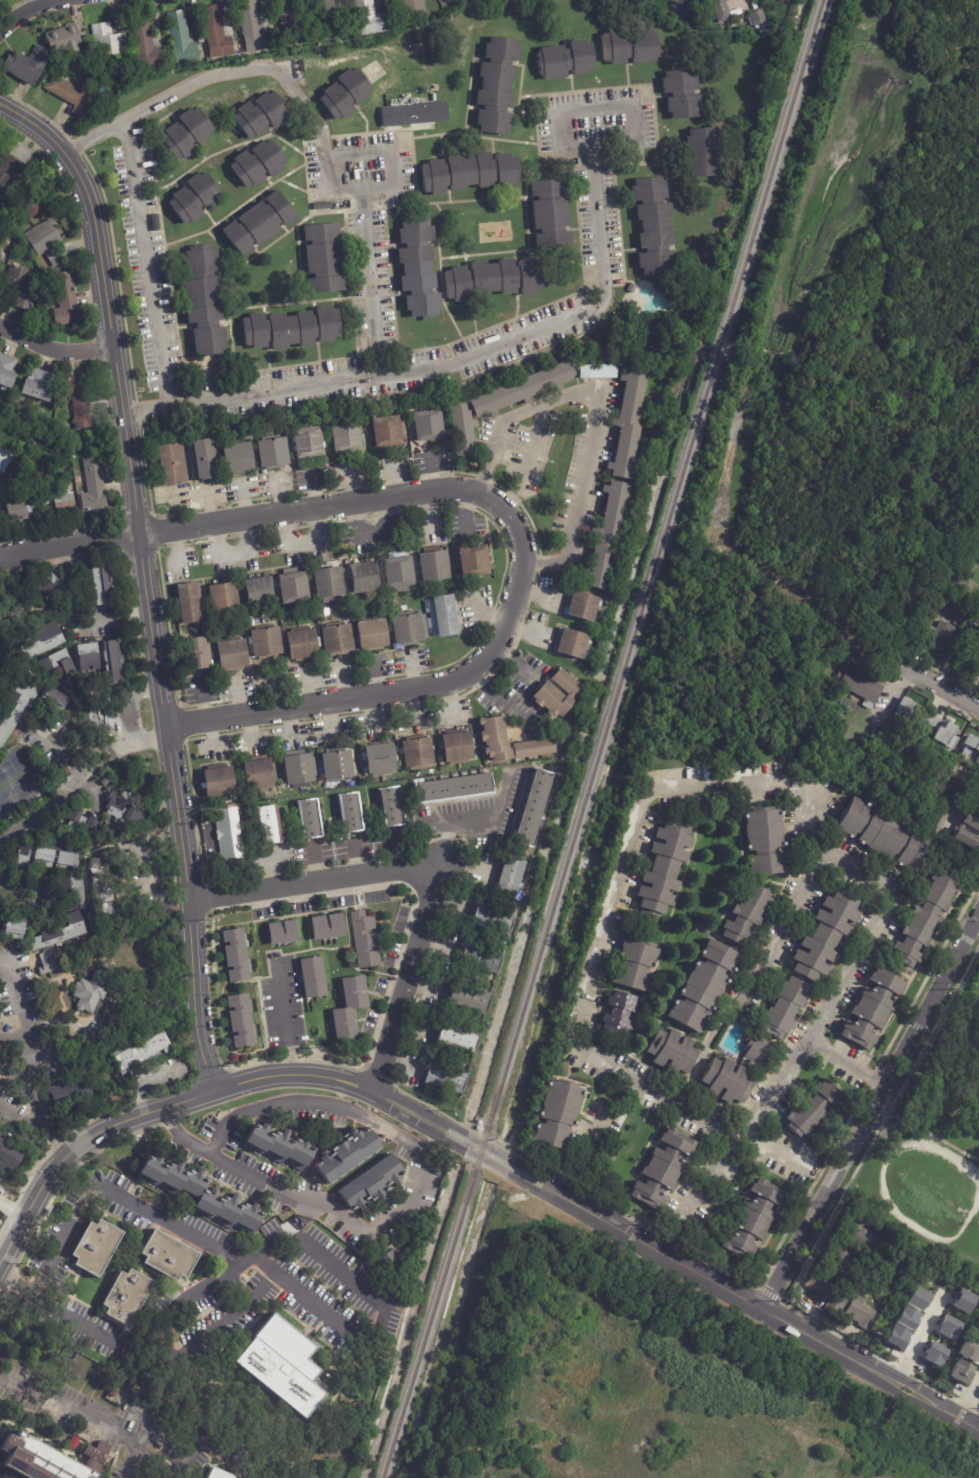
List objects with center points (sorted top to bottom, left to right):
building: (447, 0)
building: (409, 7)
building: (718, 9)
road: (24, 11)
building: (366, 18)
building: (326, 19)
building: (288, 22)
building: (765, 24)
building: (250, 26)
building: (213, 31)
building: (178, 36)
building: (196, 38)
building: (65, 40)
building: (105, 41)
building: (140, 41)
building: (628, 44)
building: (565, 59)
building: (25, 64)
building: (495, 85)
building: (345, 93)
building: (678, 95)
building: (70, 96)
road: (299, 97)
building: (413, 113)
building: (260, 114)
building: (185, 133)
building: (698, 153)
building: (257, 162)
building: (10, 172)
building: (470, 172)
building: (194, 197)
building: (30, 199)
building: (323, 205)
building: (548, 214)
building: (154, 222)
building: (259, 222)
building: (654, 225)
building: (46, 241)
road: (97, 248)
building: (1, 256)
building: (325, 258)
building: (416, 268)
building: (494, 279)
road: (370, 282)
building: (21, 288)
building: (631, 288)
building: (68, 300)
building: (205, 300)
building: (290, 329)
road: (55, 348)
road: (435, 366)
building: (7, 371)
building: (594, 372)
building: (39, 386)
building: (520, 389)
building: (81, 401)
road: (148, 405)
road: (597, 413)
building: (625, 425)
building: (422, 427)
building: (459, 430)
building: (384, 431)
building: (343, 437)
road: (128, 442)
building: (304, 444)
road: (532, 447)
building: (267, 454)
building: (5, 458)
building: (230, 459)
building: (197, 460)
building: (167, 464)
building: (96, 486)
building: (532, 490)
building: (21, 494)
building: (63, 503)
road: (495, 503)
building: (20, 511)
building: (604, 534)
road: (236, 557)
building: (472, 561)
building: (432, 568)
building: (397, 574)
building: (362, 577)
building: (328, 584)
building: (107, 586)
building: (49, 588)
building: (290, 590)
building: (258, 593)
building: (222, 599)
building: (187, 604)
building: (947, 606)
building: (354, 607)
building: (582, 607)
building: (281, 616)
building: (443, 616)
road: (113, 617)
building: (195, 629)
building: (404, 631)
building: (368, 634)
building: (937, 637)
building: (334, 640)
building: (263, 643)
building: (42, 644)
building: (572, 644)
building: (297, 645)
building: (314, 645)
building: (193, 654)
building: (228, 655)
building: (965, 655)
building: (88, 657)
building: (58, 661)
building: (116, 664)
building: (977, 672)
building: (860, 687)
road: (942, 688)
road: (892, 690)
building: (554, 695)
building: (55, 701)
road: (130, 702)
building: (18, 706)
building: (100, 716)
building: (924, 722)
railway: (603, 739)
building: (491, 741)
building: (970, 746)
road: (60, 747)
building: (452, 749)
building: (412, 755)
building: (648, 757)
building: (377, 760)
building: (334, 767)
building: (295, 771)
road: (172, 772)
road: (77, 774)
building: (254, 777)
building: (105, 782)
building: (214, 784)
building: (454, 790)
building: (973, 795)
building: (532, 807)
building: (385, 809)
building: (124, 810)
building: (344, 815)
building: (940, 815)
road: (485, 820)
building: (303, 821)
building: (81, 824)
building: (968, 824)
building: (262, 827)
building: (882, 834)
building: (223, 836)
road: (819, 839)
building: (966, 839)
road: (455, 841)
building: (765, 845)
building: (50, 856)
road: (435, 862)
building: (662, 871)
building: (103, 875)
building: (509, 879)
road: (150, 881)
building: (76, 891)
building: (107, 893)
road: (880, 911)
building: (112, 913)
building: (747, 914)
building: (925, 918)
building: (491, 920)
building: (16, 927)
building: (325, 927)
building: (61, 932)
building: (280, 932)
building: (826, 936)
building: (363, 941)
road: (597, 942)
building: (234, 956)
building: (478, 962)
building: (52, 965)
building: (635, 965)
building: (310, 975)
building: (704, 986)
building: (90, 992)
building: (467, 1000)
building: (784, 1008)
building: (347, 1009)
building: (872, 1009)
building: (619, 1013)
road: (282, 1015)
road: (26, 1017)
building: (238, 1021)
building: (454, 1041)
road: (16, 1048)
building: (671, 1053)
building: (137, 1054)
building: (755, 1054)
road: (848, 1060)
road: (35, 1073)
building: (444, 1079)
building: (728, 1081)
road: (369, 1089)
building: (72, 1092)
road: (37, 1104)
building: (812, 1109)
road: (870, 1110)
building: (557, 1116)
road: (22, 1123)
road: (436, 1141)
road: (414, 1143)
building: (276, 1149)
road: (579, 1150)
building: (342, 1152)
building: (8, 1158)
building: (661, 1171)
building: (373, 1184)
building: (0, 1192)
building: (202, 1195)
building: (44, 1213)
building: (752, 1221)
road: (65, 1224)
road: (177, 1227)
building: (978, 1228)
building: (858, 1234)
road: (268, 1242)
building: (96, 1247)
building: (837, 1255)
building: (170, 1256)
building: (389, 1258)
road: (216, 1277)
building: (825, 1292)
building: (126, 1298)
building: (917, 1298)
building: (963, 1302)
building: (978, 1306)
road: (57, 1307)
building: (857, 1315)
road: (217, 1318)
building: (907, 1318)
building: (948, 1327)
road: (163, 1333)
building: (896, 1336)
road: (921, 1338)
building: (968, 1351)
road: (137, 1352)
building: (934, 1354)
building: (275, 1361)
road: (871, 1368)
building: (960, 1371)
building: (132, 1387)
road: (968, 1396)
road: (156, 1405)
road: (85, 1417)
road: (218, 1446)
building: (49, 1458)
building: (216, 1473)

